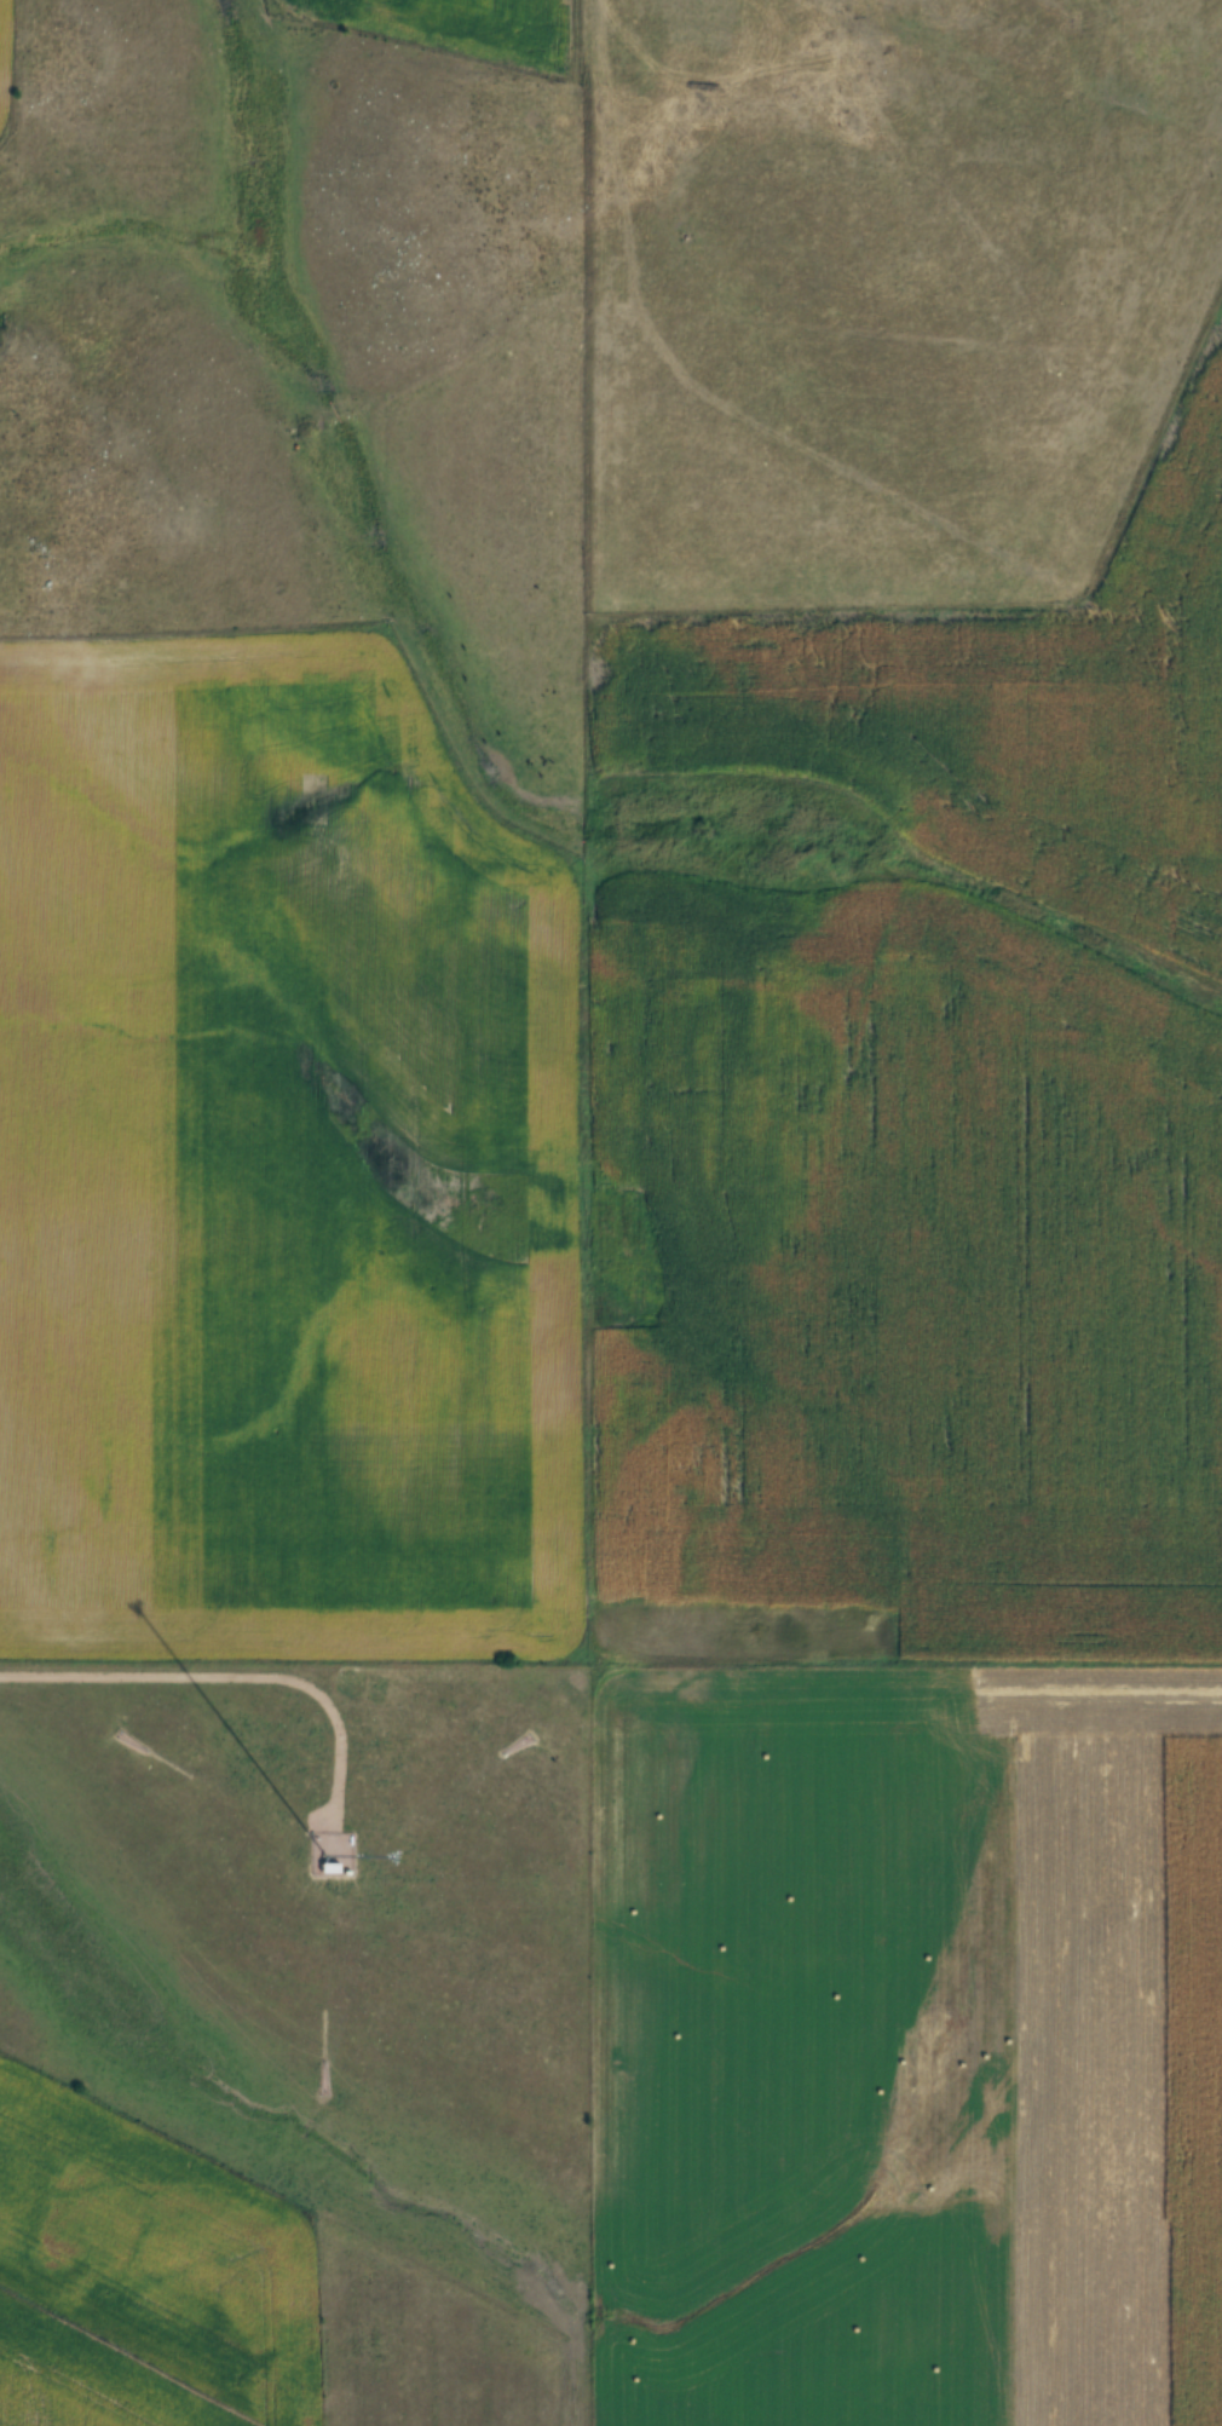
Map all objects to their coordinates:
road: (202, 1679)

